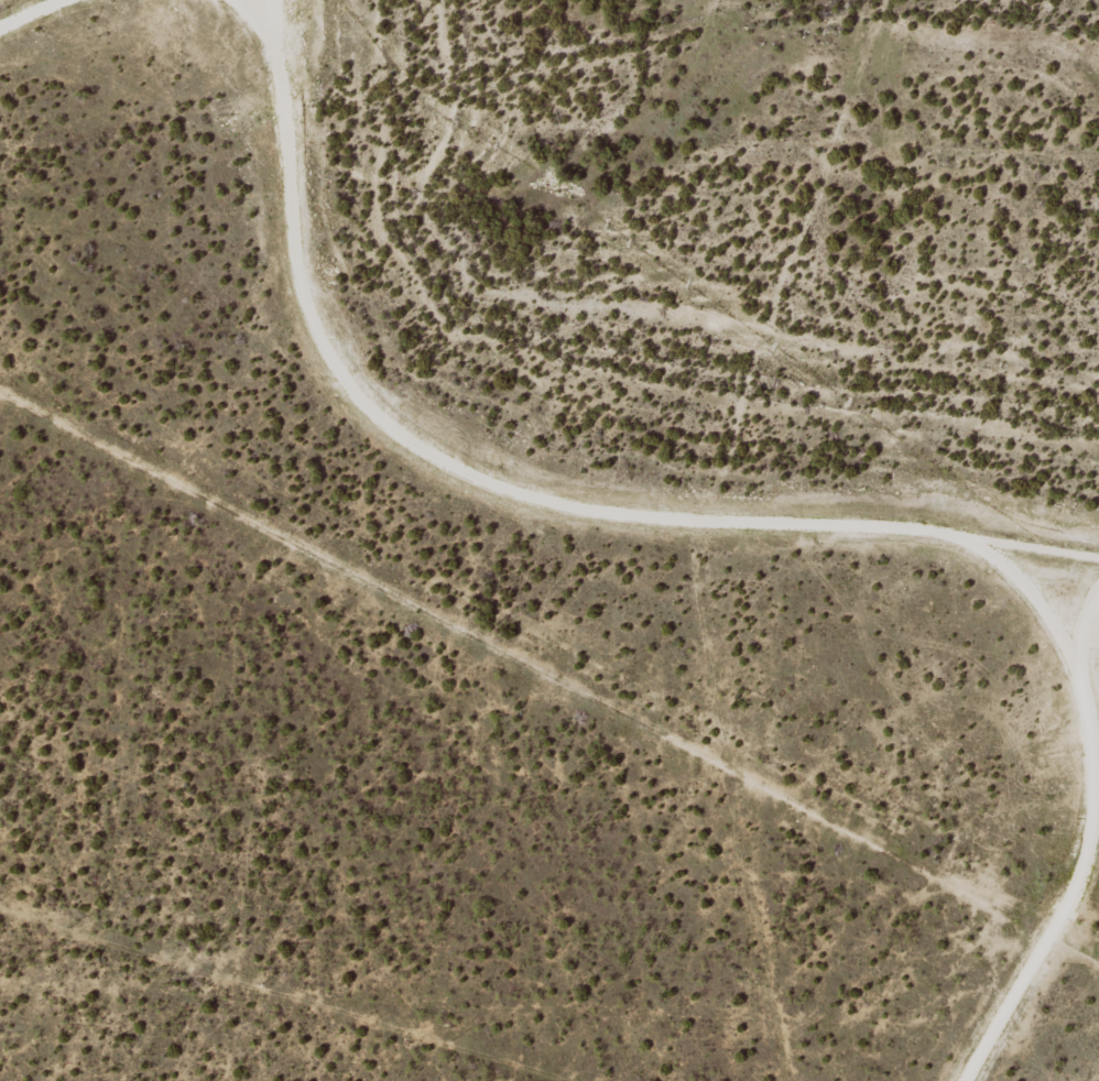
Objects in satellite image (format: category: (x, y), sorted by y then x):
road: (707, 535)

